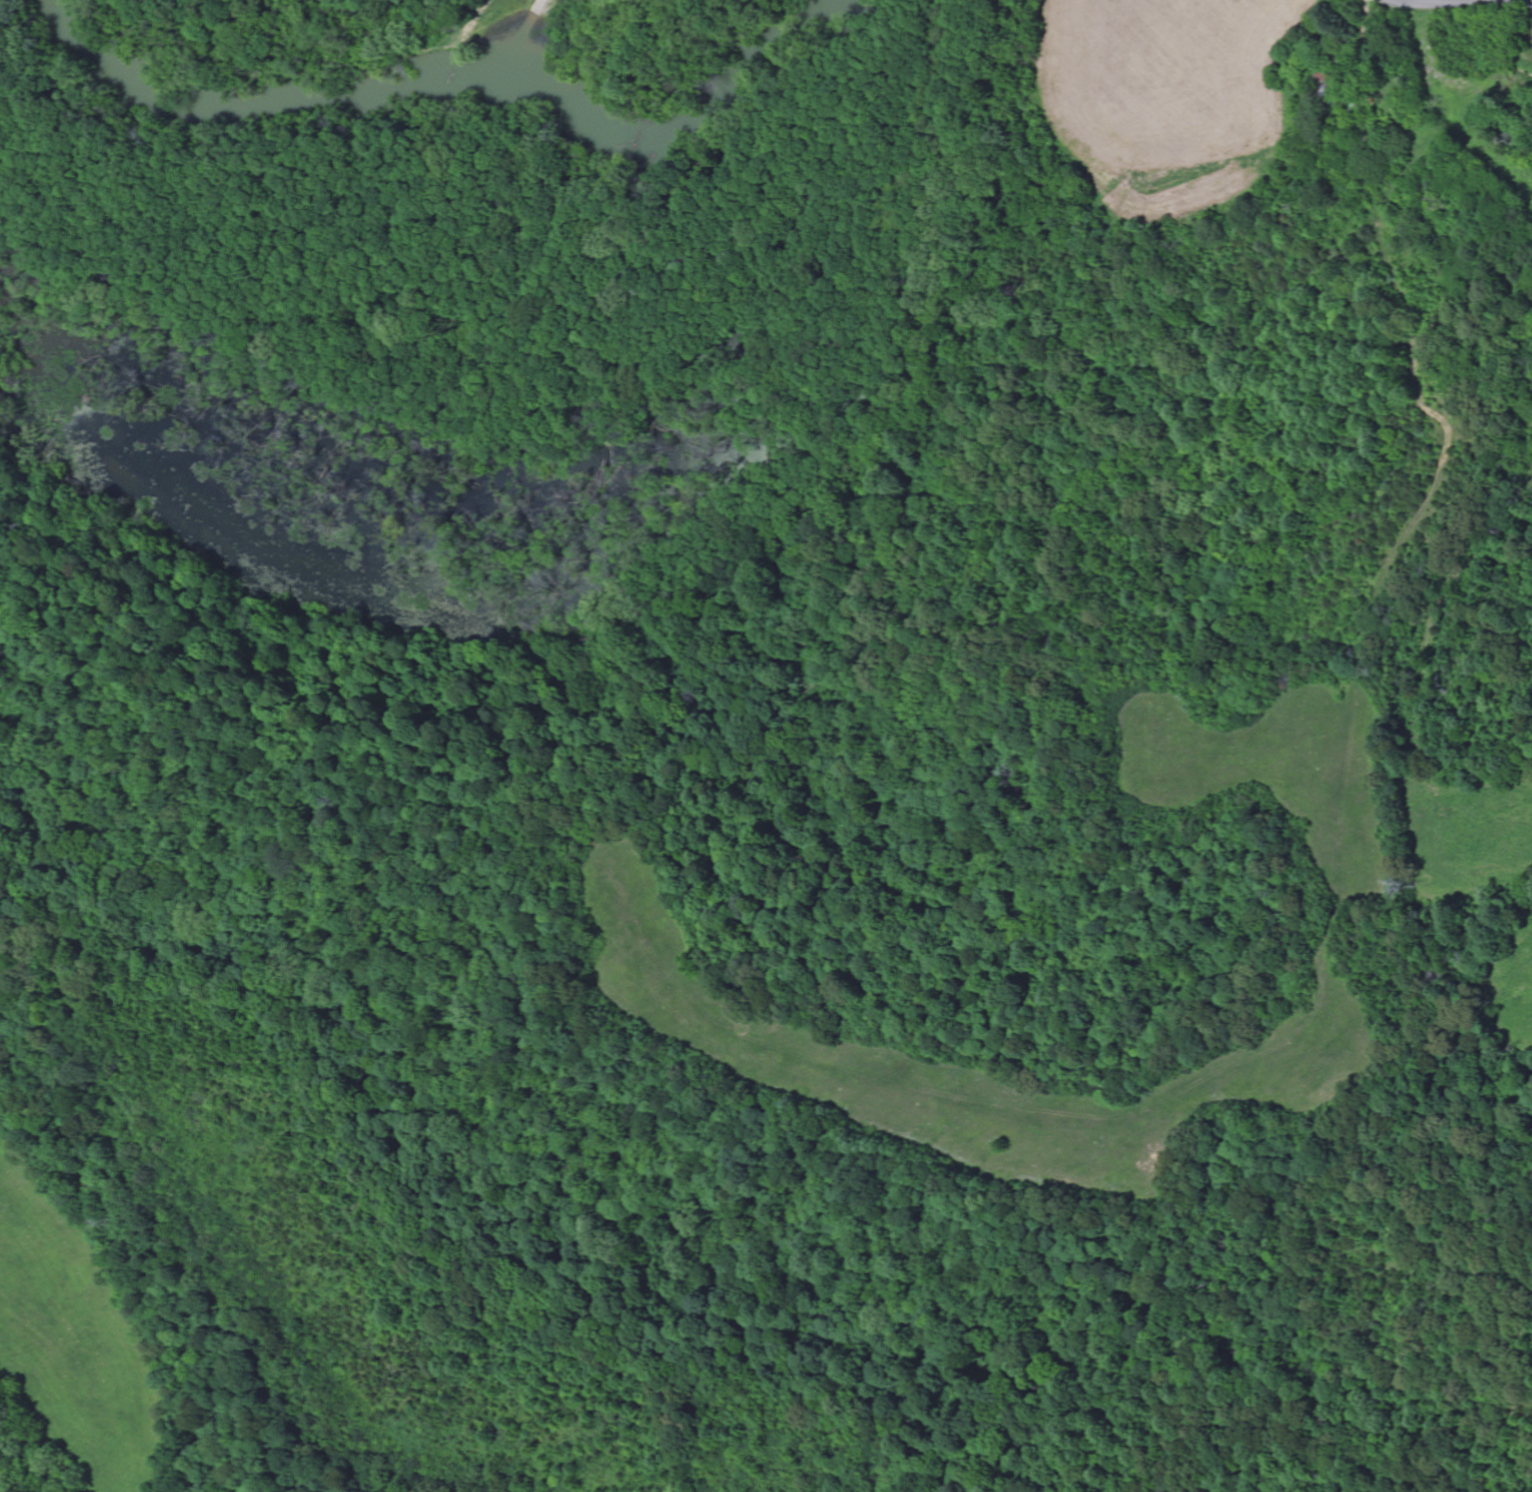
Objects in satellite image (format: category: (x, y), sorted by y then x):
road: (1467, 1)
road: (534, 11)
river: (448, 81)

